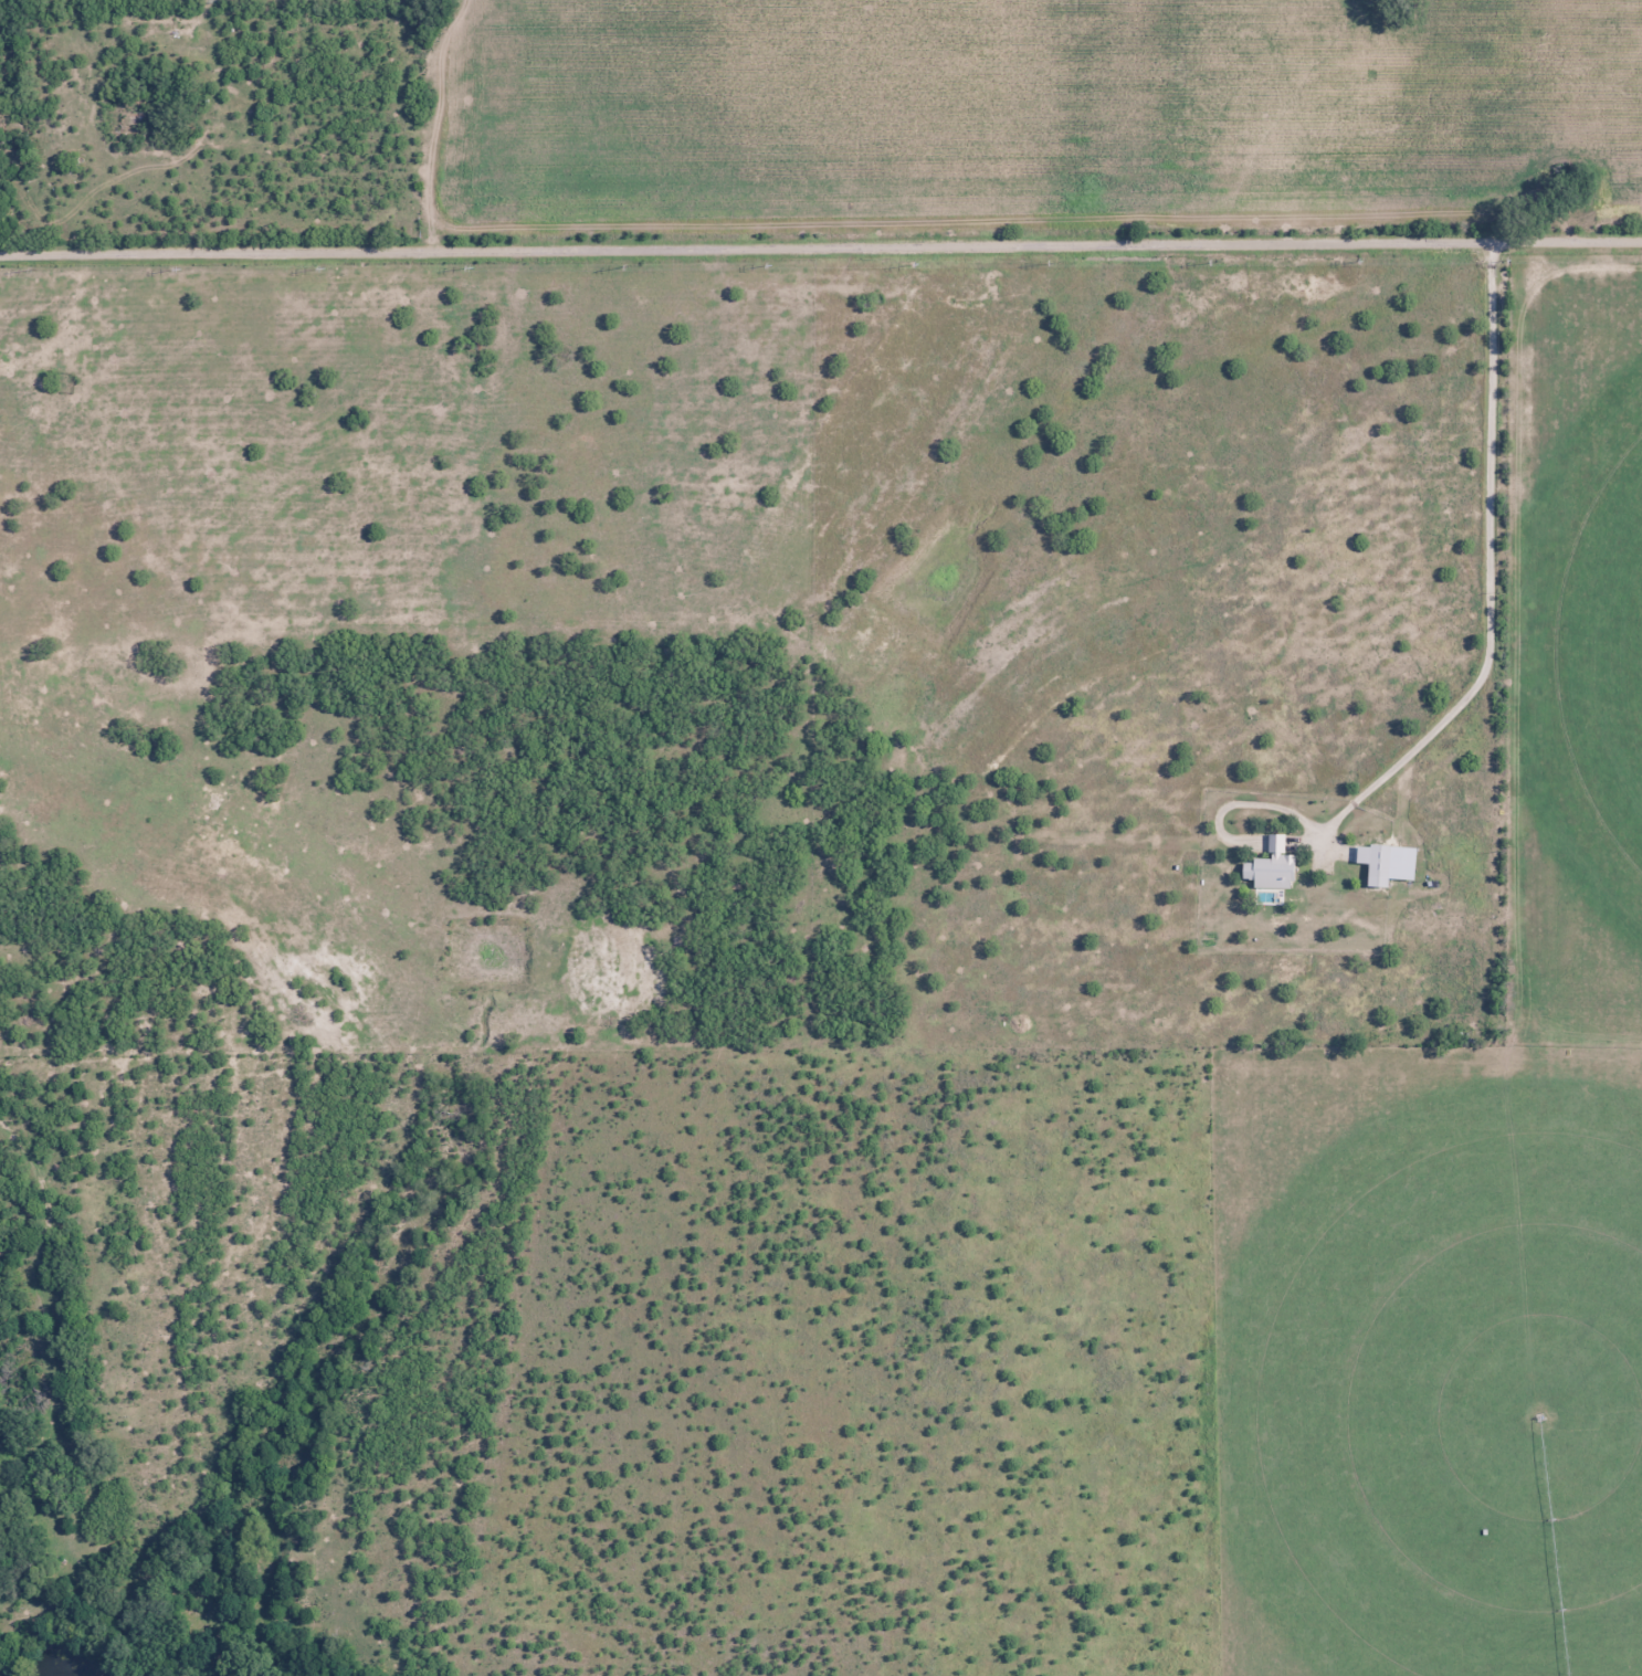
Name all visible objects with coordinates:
road: (820, 246)
power tower: (1361, 257)
power tower: (1509, 257)
power tower: (1212, 260)
power tower: (1051, 261)
power tower: (918, 262)
power tower: (629, 263)
power tower: (771, 263)
power tower: (472, 265)
power tower: (324, 266)
power tower: (181, 267)
power tower: (35, 268)
building: (1373, 863)
building: (1270, 866)
road: (24, 1462)

